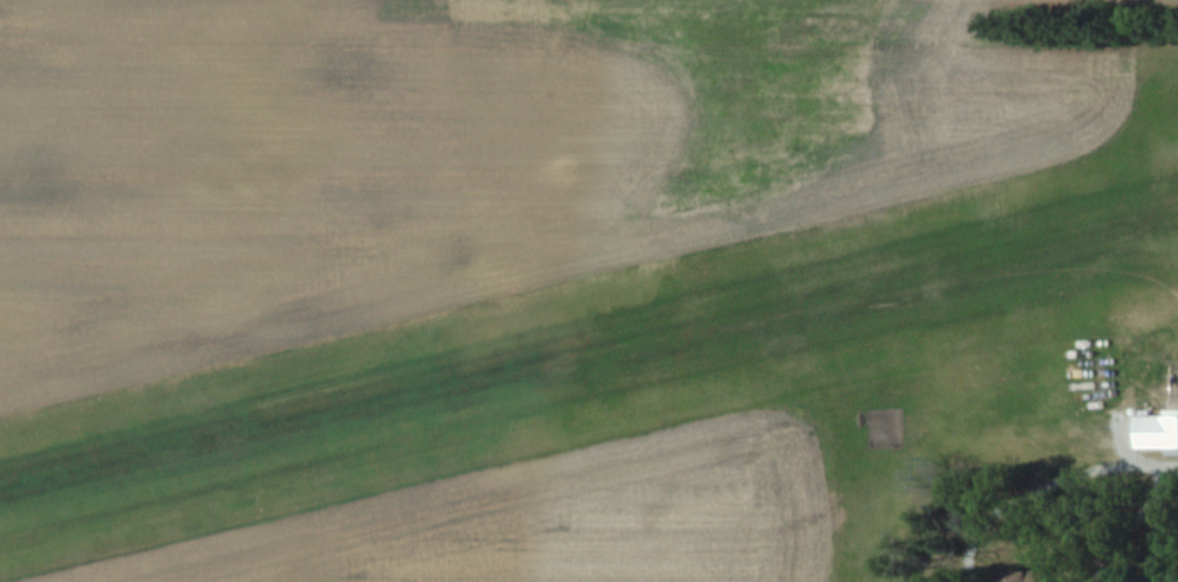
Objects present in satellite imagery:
airport runway: (588, 356)
building: (1154, 431)
road: (1172, 467)
road: (1037, 482)
road: (1128, 526)
building: (1021, 575)

